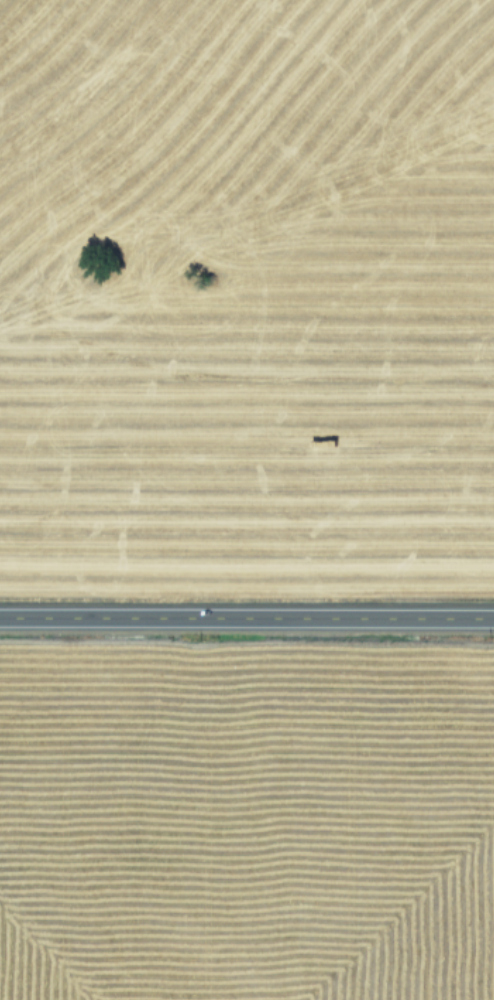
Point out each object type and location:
crop: (247, 264)
road: (246, 616)
crop: (246, 854)

